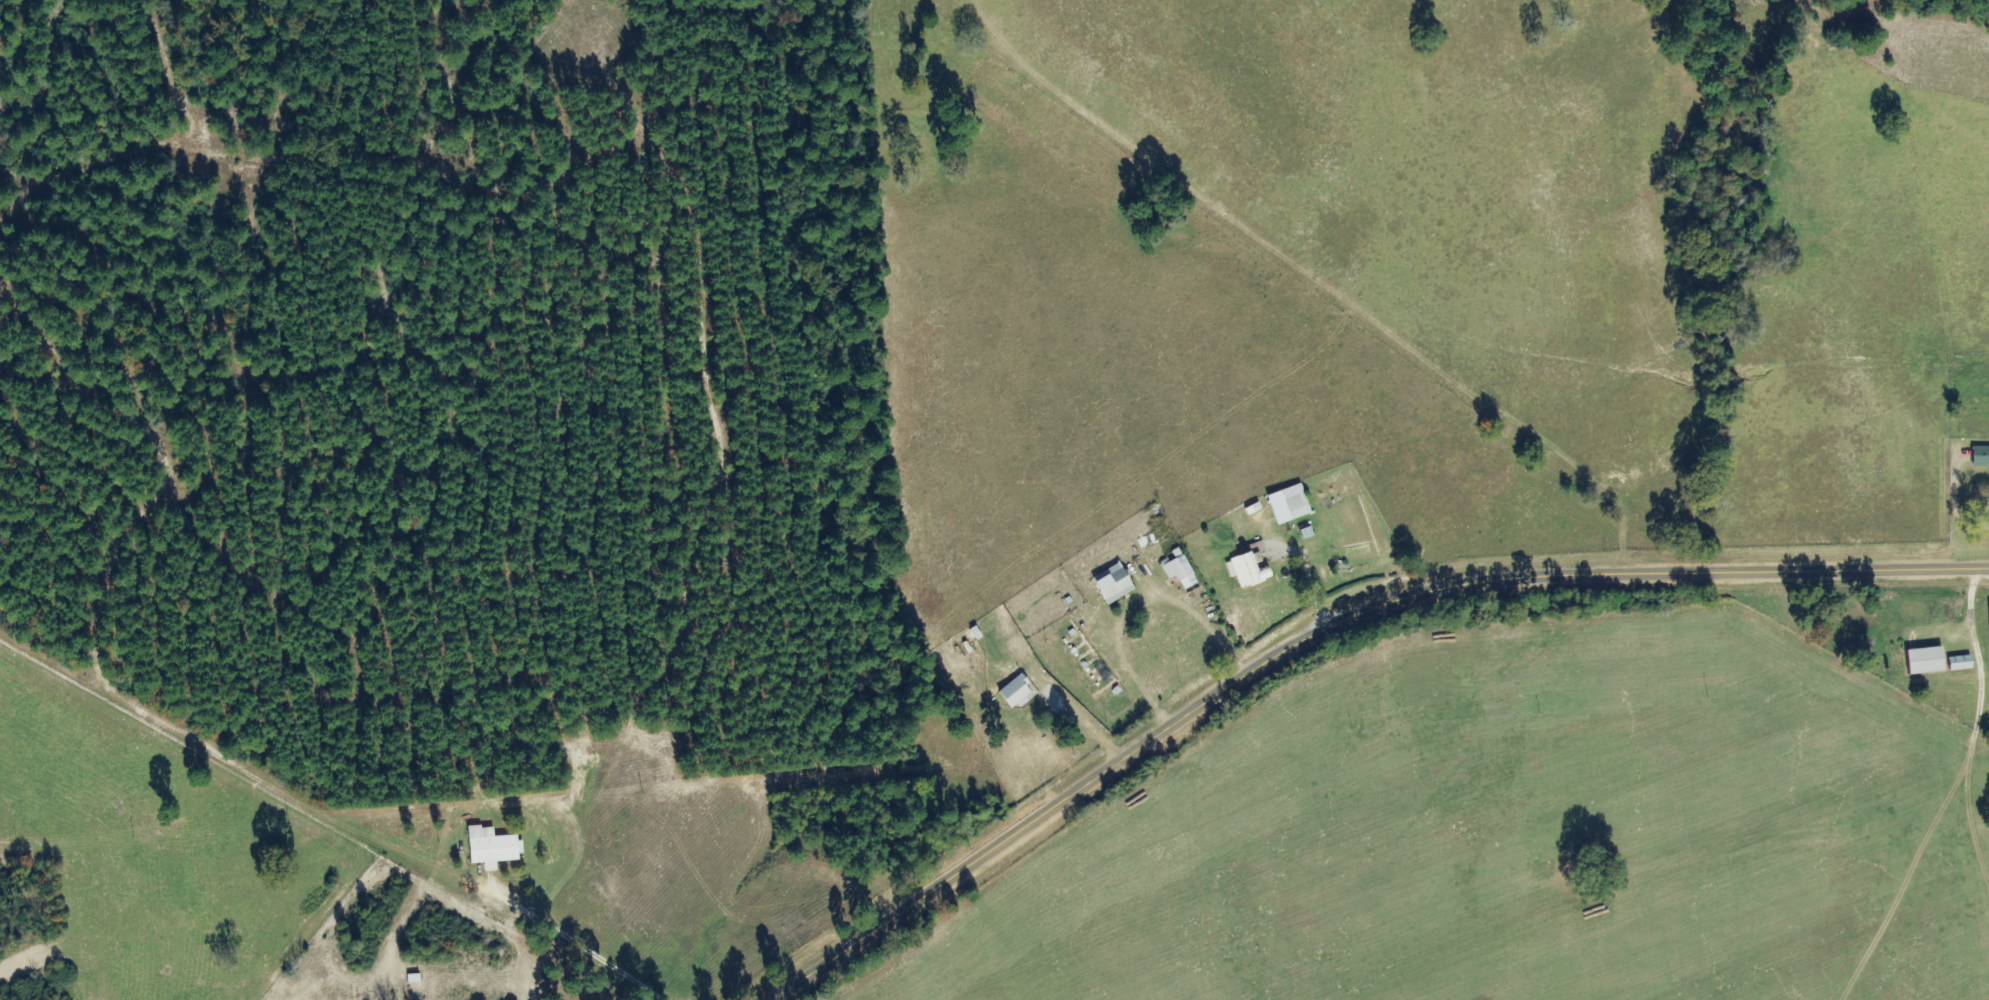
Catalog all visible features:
building: (1979, 456)
building: (1287, 504)
building: (1247, 565)
building: (1177, 569)
building: (1111, 584)
building: (1988, 609)
road: (1325, 628)
building: (1923, 660)
building: (1958, 663)
building: (1013, 692)
building: (489, 847)

